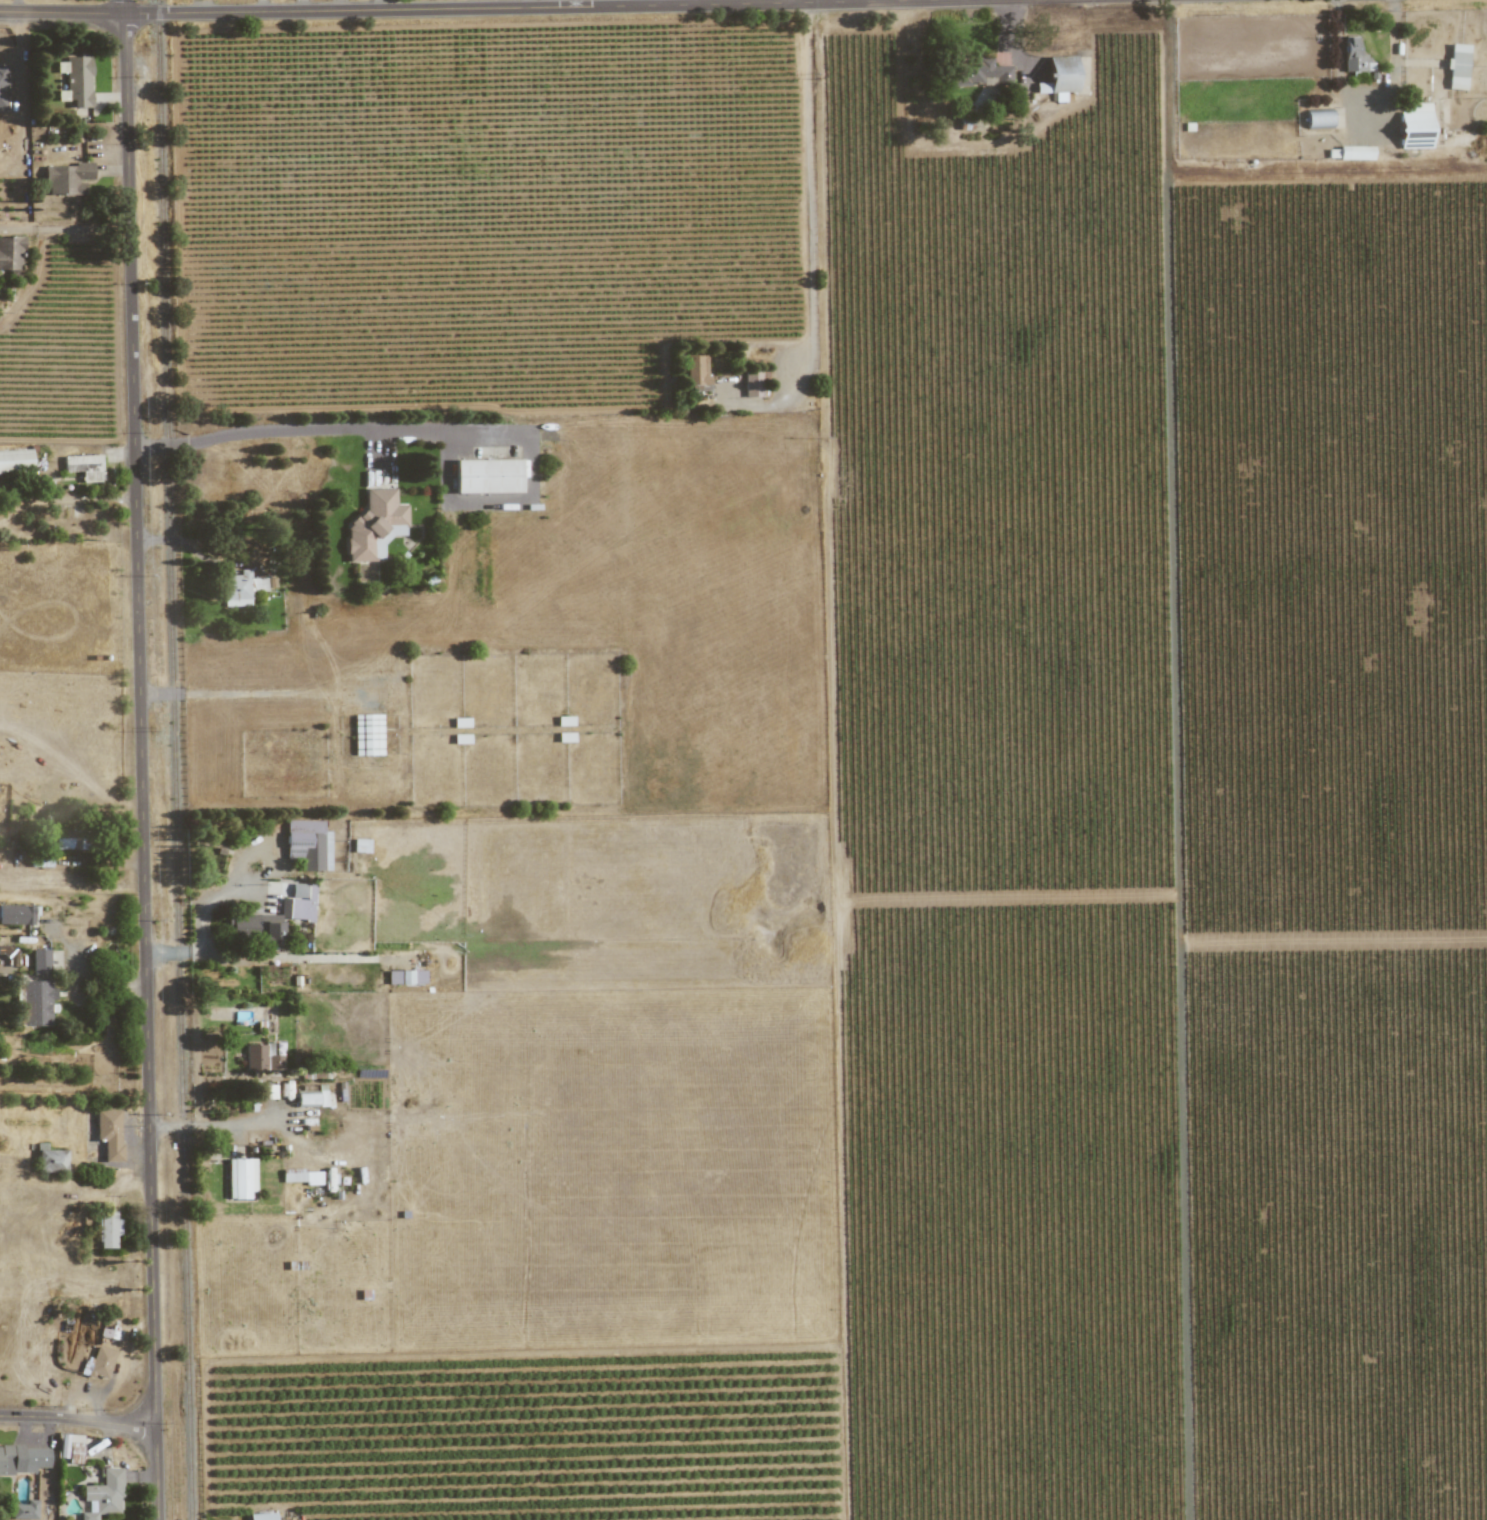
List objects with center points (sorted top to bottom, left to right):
road: (868, 0)
road: (455, 12)
building: (1353, 56)
building: (1457, 67)
building: (980, 73)
building: (1061, 74)
building: (77, 82)
building: (2, 88)
road: (1369, 104)
building: (1415, 127)
building: (1355, 153)
road: (1329, 178)
building: (65, 180)
road: (808, 210)
road: (62, 228)
building: (10, 253)
building: (697, 373)
building: (753, 383)
road: (329, 434)
building: (15, 460)
building: (84, 467)
building: (487, 476)
building: (374, 526)
building: (241, 589)
road: (240, 694)
building: (565, 721)
building: (460, 723)
building: (367, 735)
road: (142, 759)
road: (1177, 760)
building: (69, 844)
building: (308, 845)
building: (296, 907)
road: (196, 912)
building: (16, 915)
building: (40, 962)
building: (405, 977)
building: (36, 1003)
building: (262, 1059)
building: (311, 1098)
building: (108, 1134)
building: (51, 1161)
building: (302, 1177)
building: (240, 1178)
building: (107, 1230)
building: (100, 1363)
road: (78, 1423)
building: (22, 1460)
building: (103, 1495)
building: (24, 1511)
building: (262, 1516)

